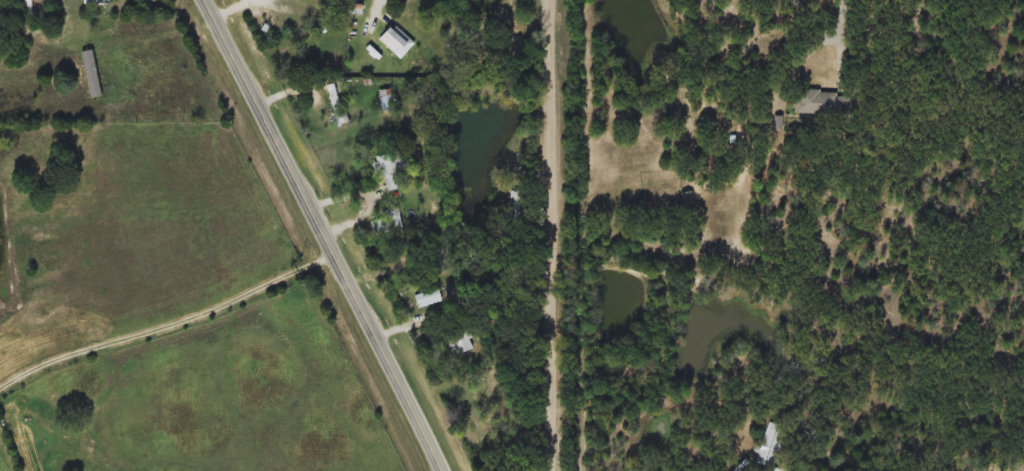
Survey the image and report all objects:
road: (382, 2)
building: (394, 41)
road: (806, 53)
building: (384, 100)
building: (335, 103)
building: (822, 103)
building: (392, 170)
building: (686, 201)
building: (387, 222)
road: (324, 234)
road: (548, 235)
building: (426, 298)
road: (168, 325)
building: (458, 340)
building: (771, 448)

